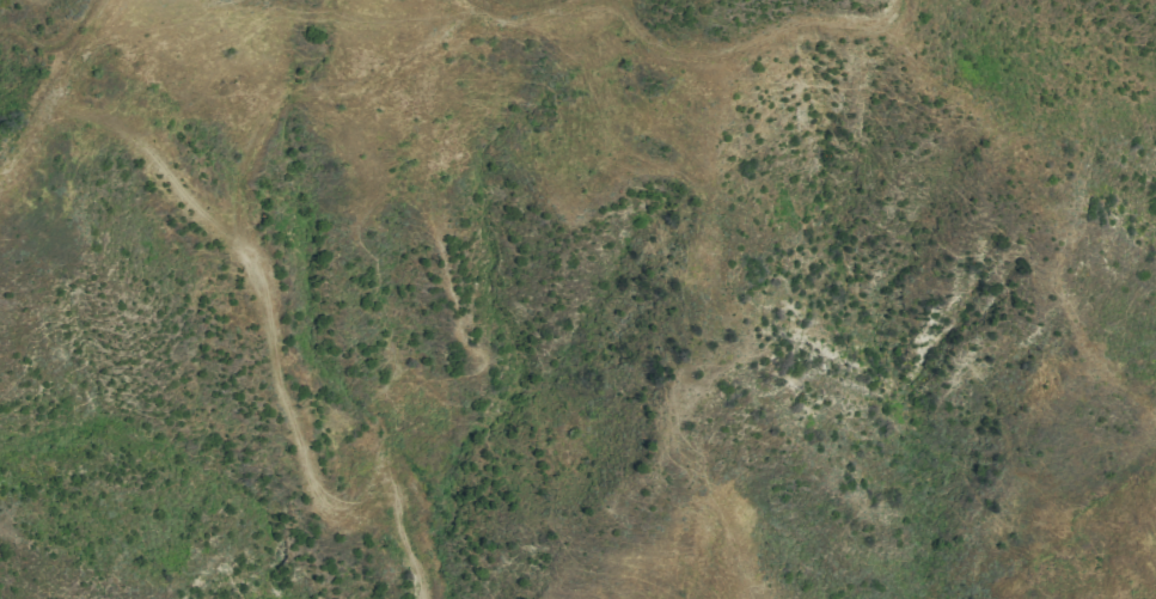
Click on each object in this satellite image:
road: (262, 302)

